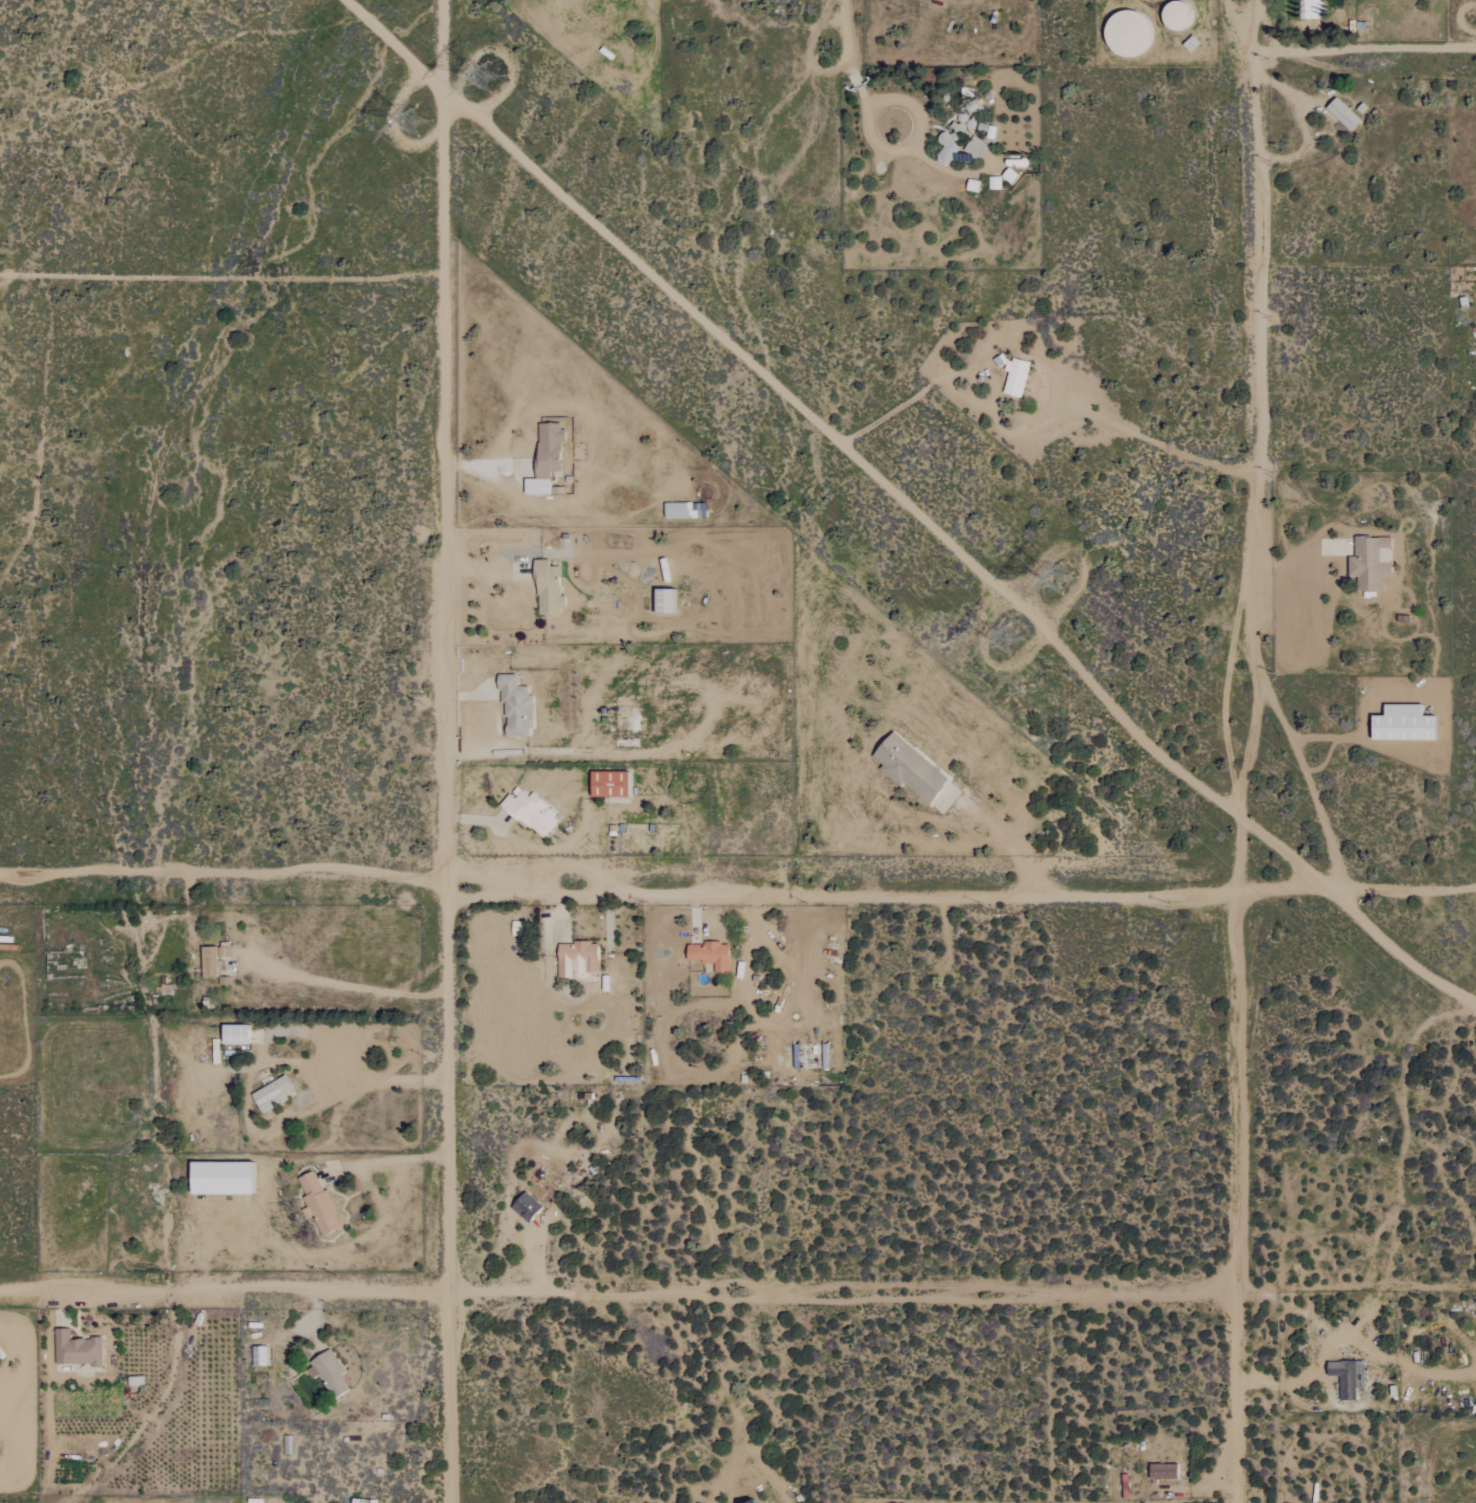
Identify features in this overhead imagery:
building: (1310, 9)
building: (1189, 44)
road: (1366, 48)
road: (811, 52)
road: (851, 57)
power tower: (494, 83)
road: (875, 109)
building: (1341, 114)
power tower: (416, 118)
road: (1303, 125)
building: (961, 135)
building: (1009, 175)
building: (994, 183)
road: (646, 266)
building: (1013, 376)
road: (1040, 417)
building: (544, 457)
road: (488, 465)
building: (682, 511)
building: (1369, 562)
power tower: (1057, 563)
road: (488, 568)
road: (1314, 569)
building: (546, 589)
building: (661, 600)
road: (1047, 630)
power tower: (1016, 646)
road: (502, 661)
road: (480, 693)
building: (514, 708)
building: (1400, 723)
road: (448, 751)
road: (1249, 751)
building: (907, 768)
road: (1306, 781)
building: (607, 783)
building: (528, 812)
road: (479, 819)
road: (1004, 845)
road: (737, 893)
road: (1357, 918)
building: (708, 955)
building: (575, 959)
road: (352, 985)
building: (232, 1034)
road: (383, 1083)
building: (270, 1095)
road: (400, 1159)
building: (217, 1178)
building: (317, 1204)
building: (525, 1207)
road: (617, 1295)
building: (75, 1349)
building: (327, 1373)
building: (1346, 1377)
building: (1162, 1471)
building: (749, 1501)

